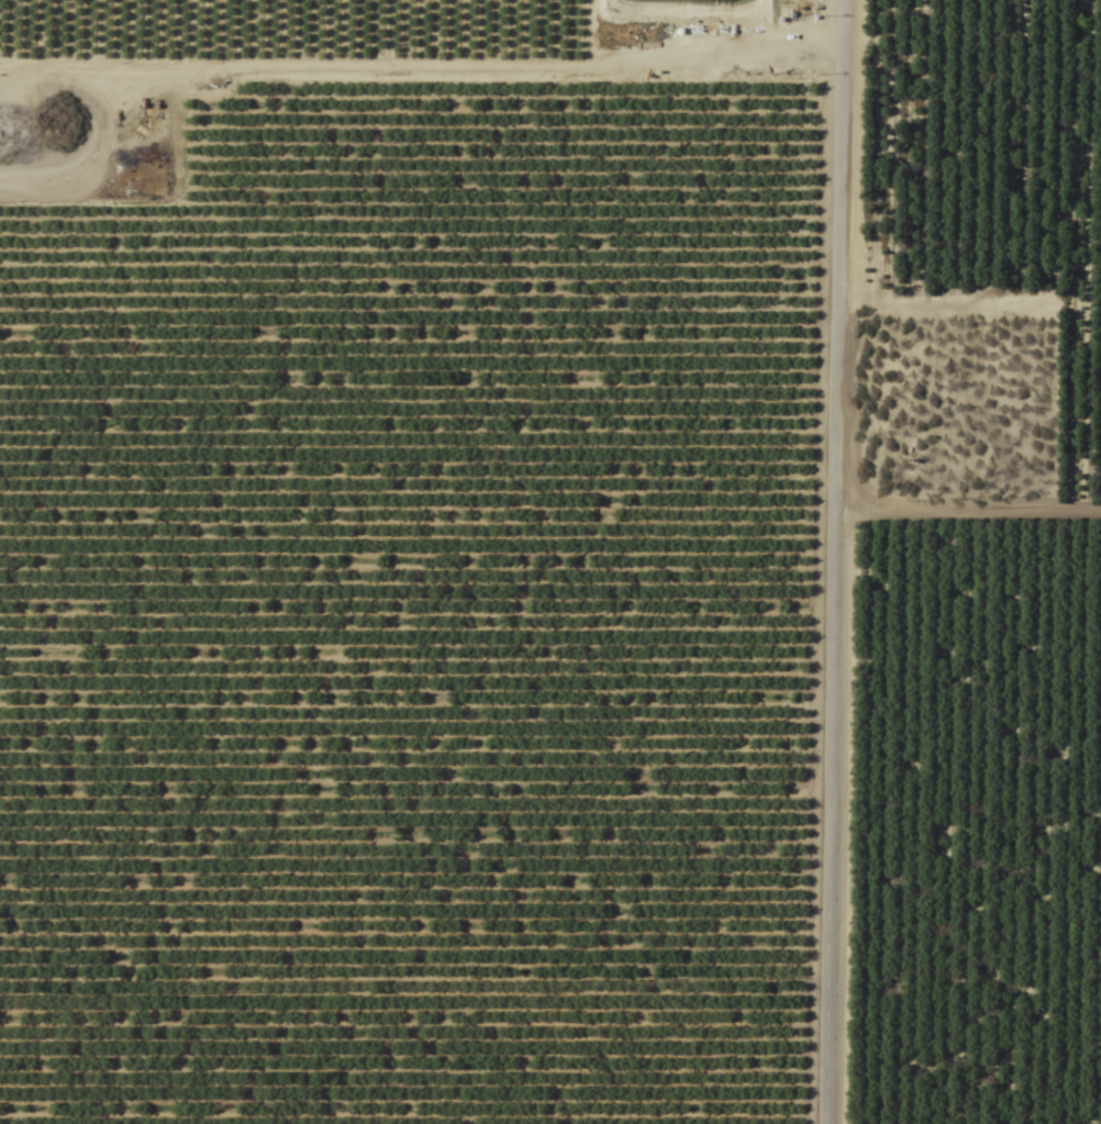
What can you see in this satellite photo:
road: (420, 5)
wastewater plant: (79, 133)
road: (967, 470)
crop: (550, 561)
road: (832, 561)

